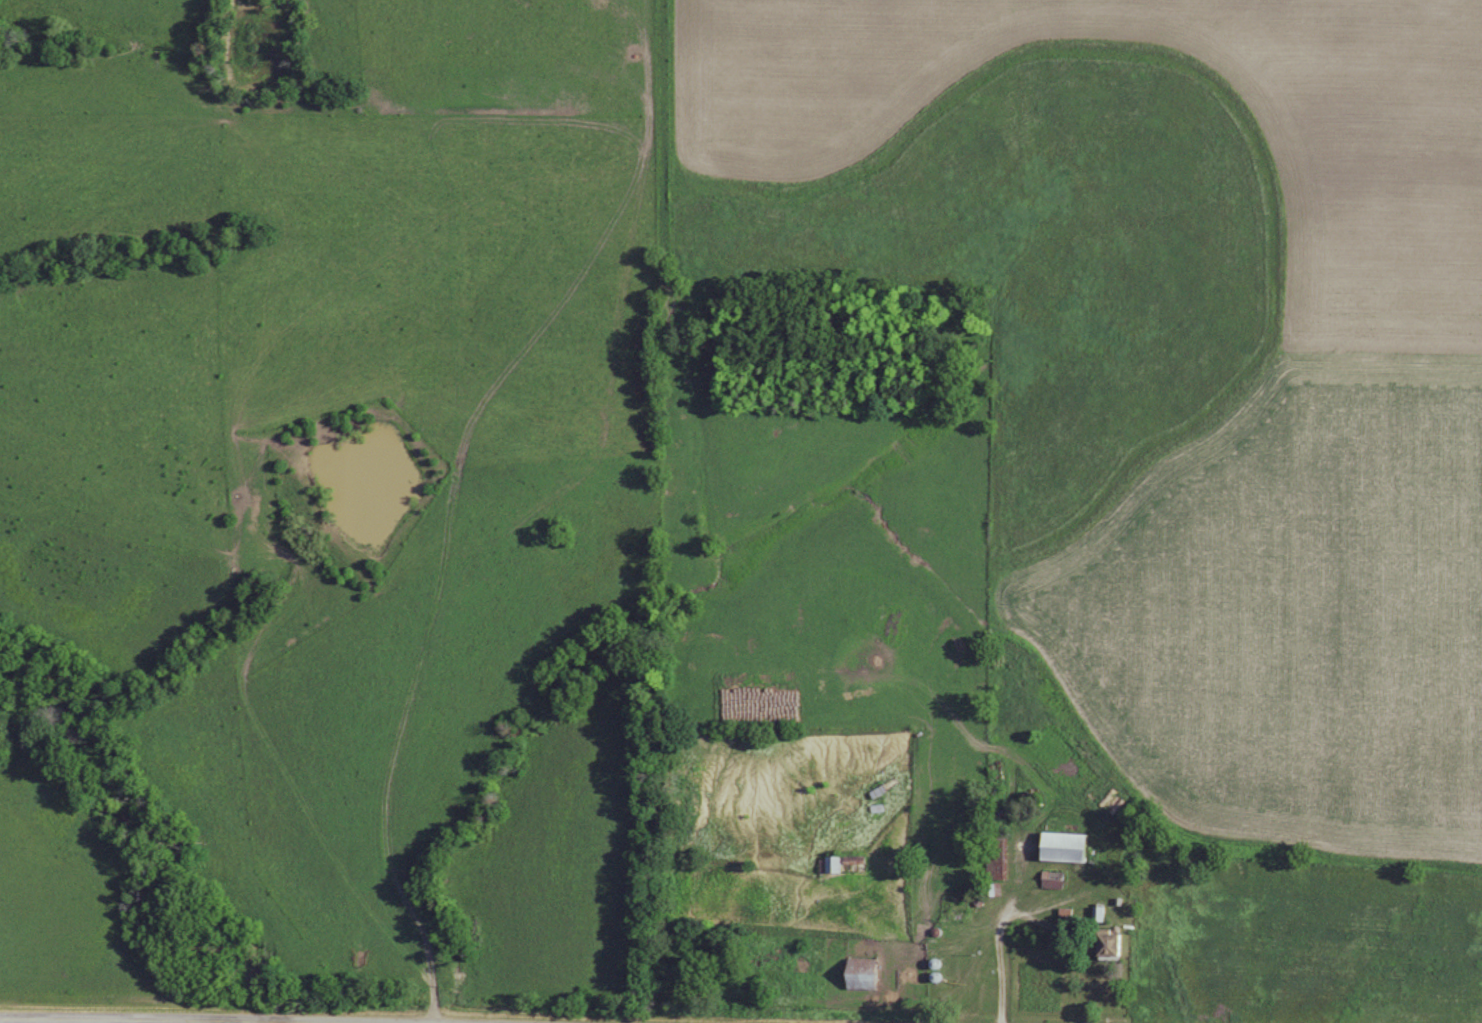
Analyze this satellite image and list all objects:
building: (1060, 846)
building: (857, 975)
road: (208, 1020)

